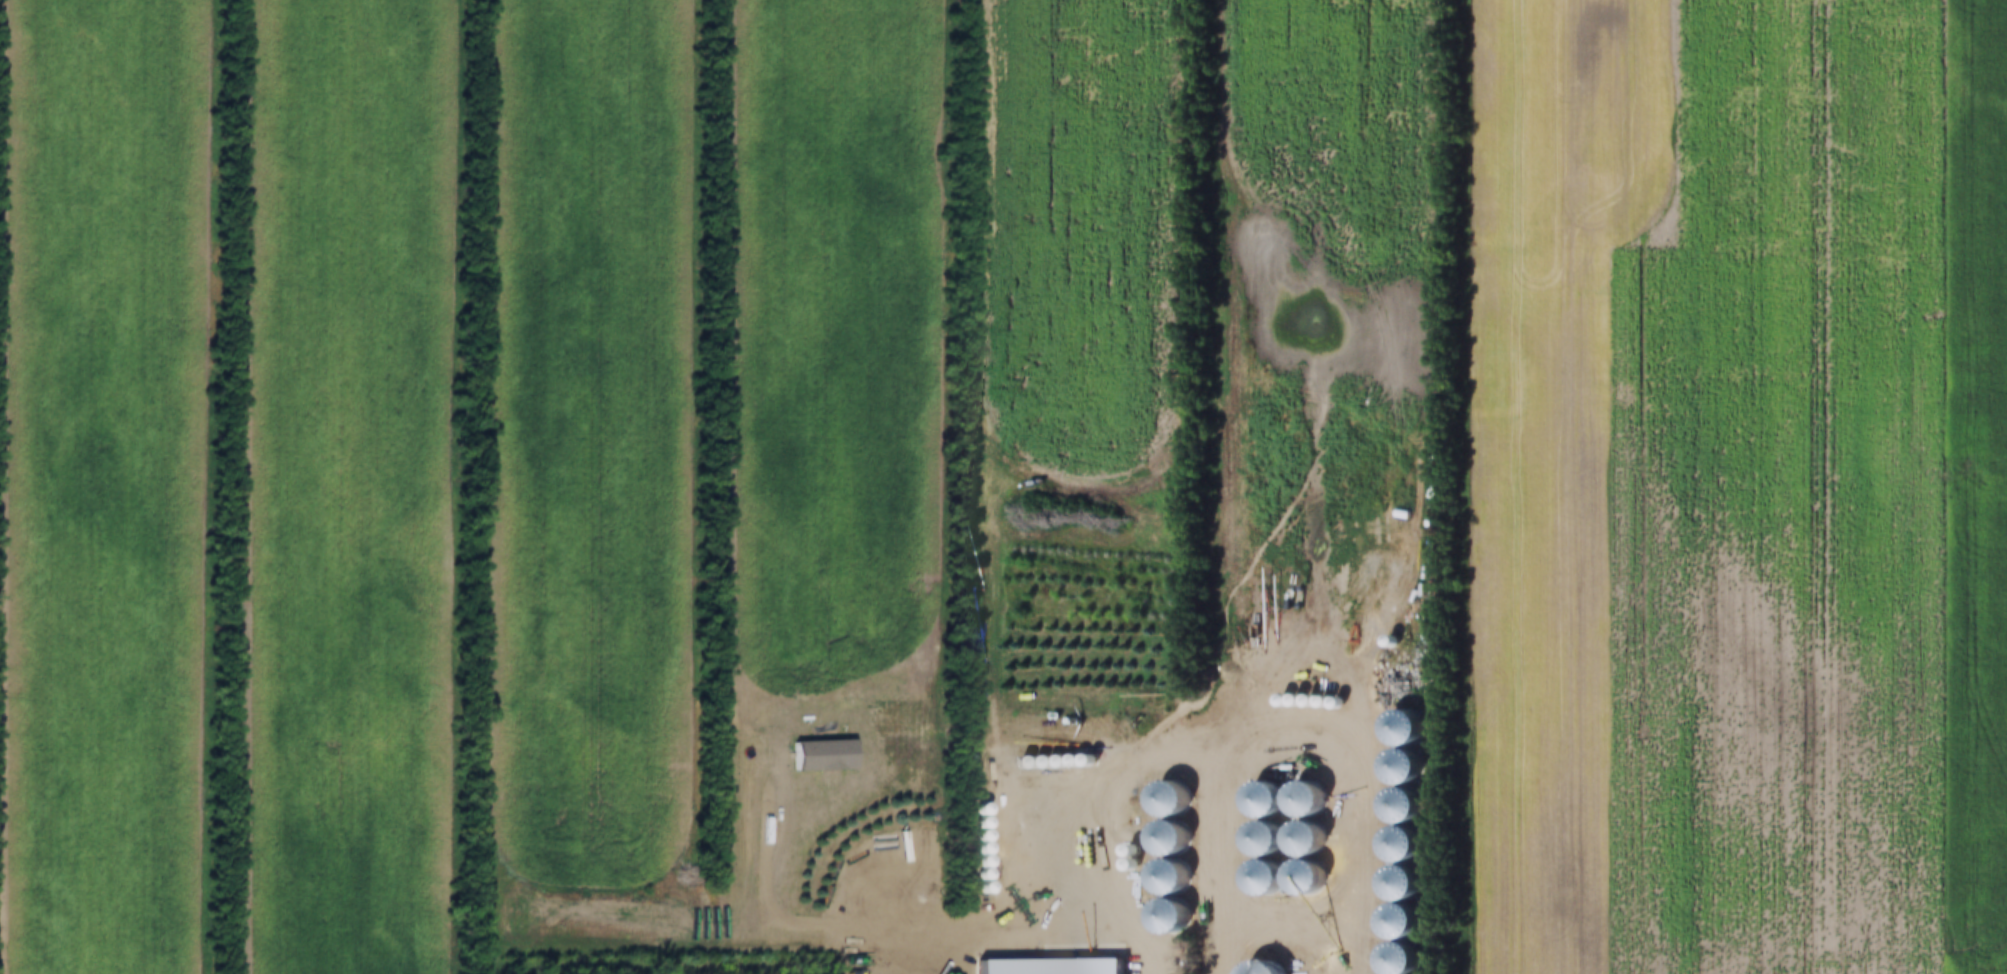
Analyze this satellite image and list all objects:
building: (1386, 641)
silo: (1386, 641)
building: (1277, 700)
silo: (1277, 700)
building: (1290, 701)
silo: (1290, 701)
building: (1304, 701)
silo: (1304, 701)
building: (1318, 702)
silo: (1318, 702)
building: (1331, 702)
silo: (1331, 702)
building: (1397, 728)
silo: (1397, 728)
building: (1084, 758)
silo: (1084, 758)
building: (1059, 759)
silo: (1059, 759)
building: (1072, 759)
silo: (1072, 759)
building: (1032, 760)
silo: (1032, 760)
building: (1046, 760)
silo: (1046, 760)
building: (1018, 761)
silo: (1018, 761)
building: (1396, 766)
silo: (1396, 766)
building: (1164, 800)
silo: (1164, 800)
building: (1300, 800)
silo: (1300, 800)
building: (1258, 801)
silo: (1258, 801)
building: (1395, 805)
silo: (1395, 805)
building: (974, 808)
silo: (974, 808)
building: (974, 822)
silo: (974, 822)
building: (974, 835)
silo: (974, 835)
building: (1164, 839)
silo: (1164, 839)
building: (1258, 840)
silo: (1258, 840)
building: (1300, 840)
silo: (1300, 840)
building: (1394, 844)
silo: (1394, 844)
building: (974, 848)
silo: (974, 848)
building: (1125, 849)
silo: (1125, 849)
building: (974, 861)
silo: (974, 861)
building: (1125, 863)
silo: (1125, 863)
building: (974, 873)
silo: (974, 873)
building: (1164, 878)
silo: (1164, 878)
building: (1259, 879)
silo: (1259, 879)
building: (1299, 879)
silo: (1299, 879)
building: (1394, 882)
silo: (1394, 882)
building: (974, 887)
silo: (974, 887)
building: (1164, 918)
silo: (1164, 918)
building: (1392, 921)
silo: (1392, 921)
building: (1391, 959)
silo: (1391, 959)
building: (1045, 966)
building: (1257, 968)
silo: (1257, 968)

